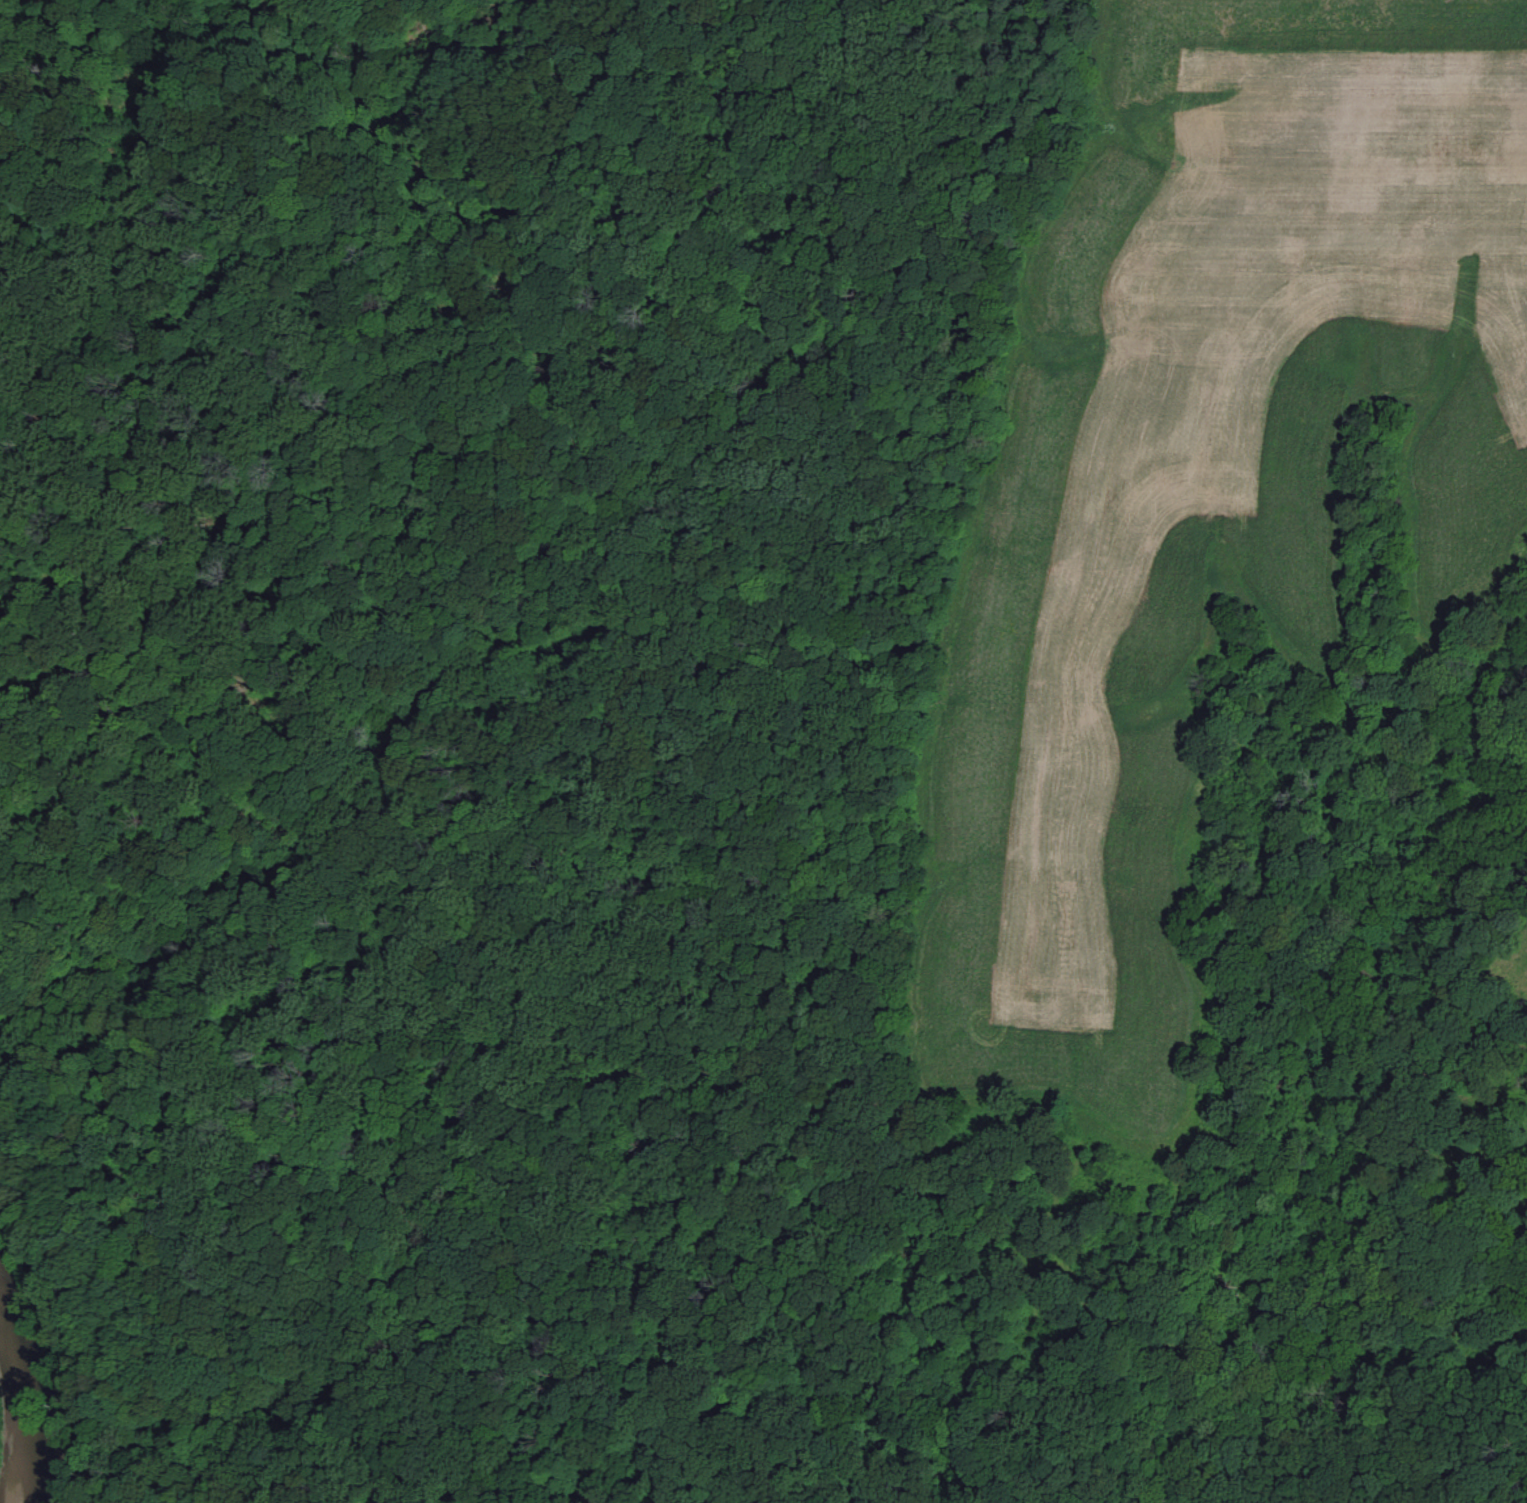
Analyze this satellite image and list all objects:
river: (15, 1382)

